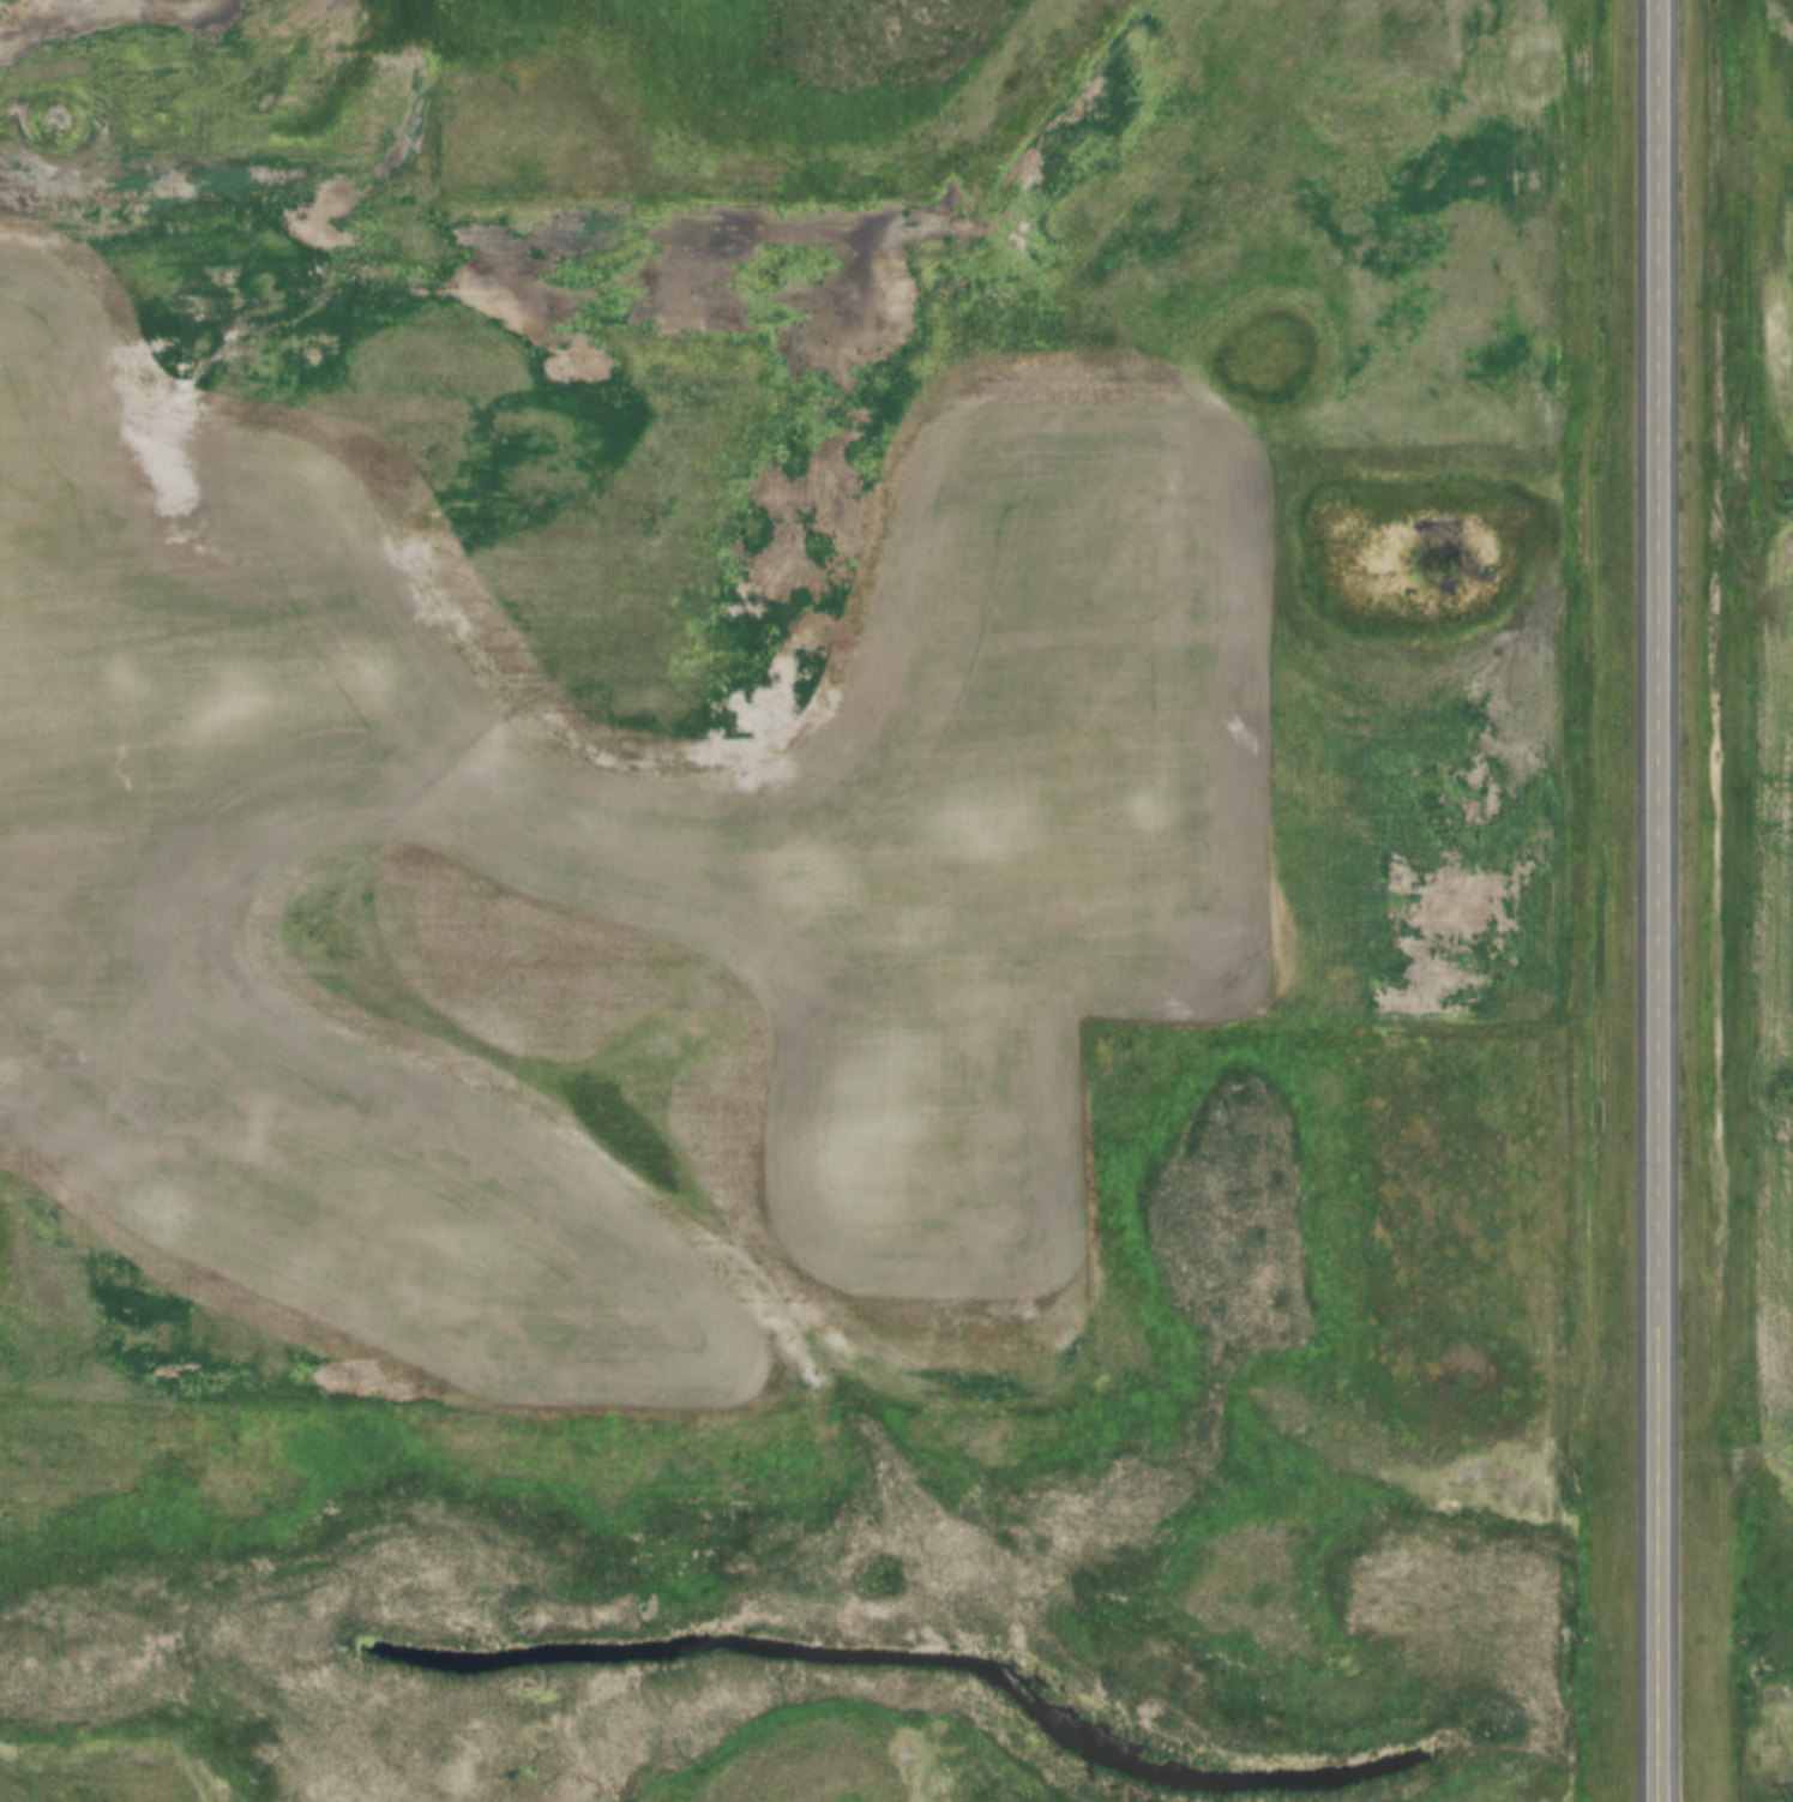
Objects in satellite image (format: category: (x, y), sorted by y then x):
power tower: (1789, 499)
road: (1663, 901)
power tower: (1791, 1088)
power tower: (1789, 1801)

